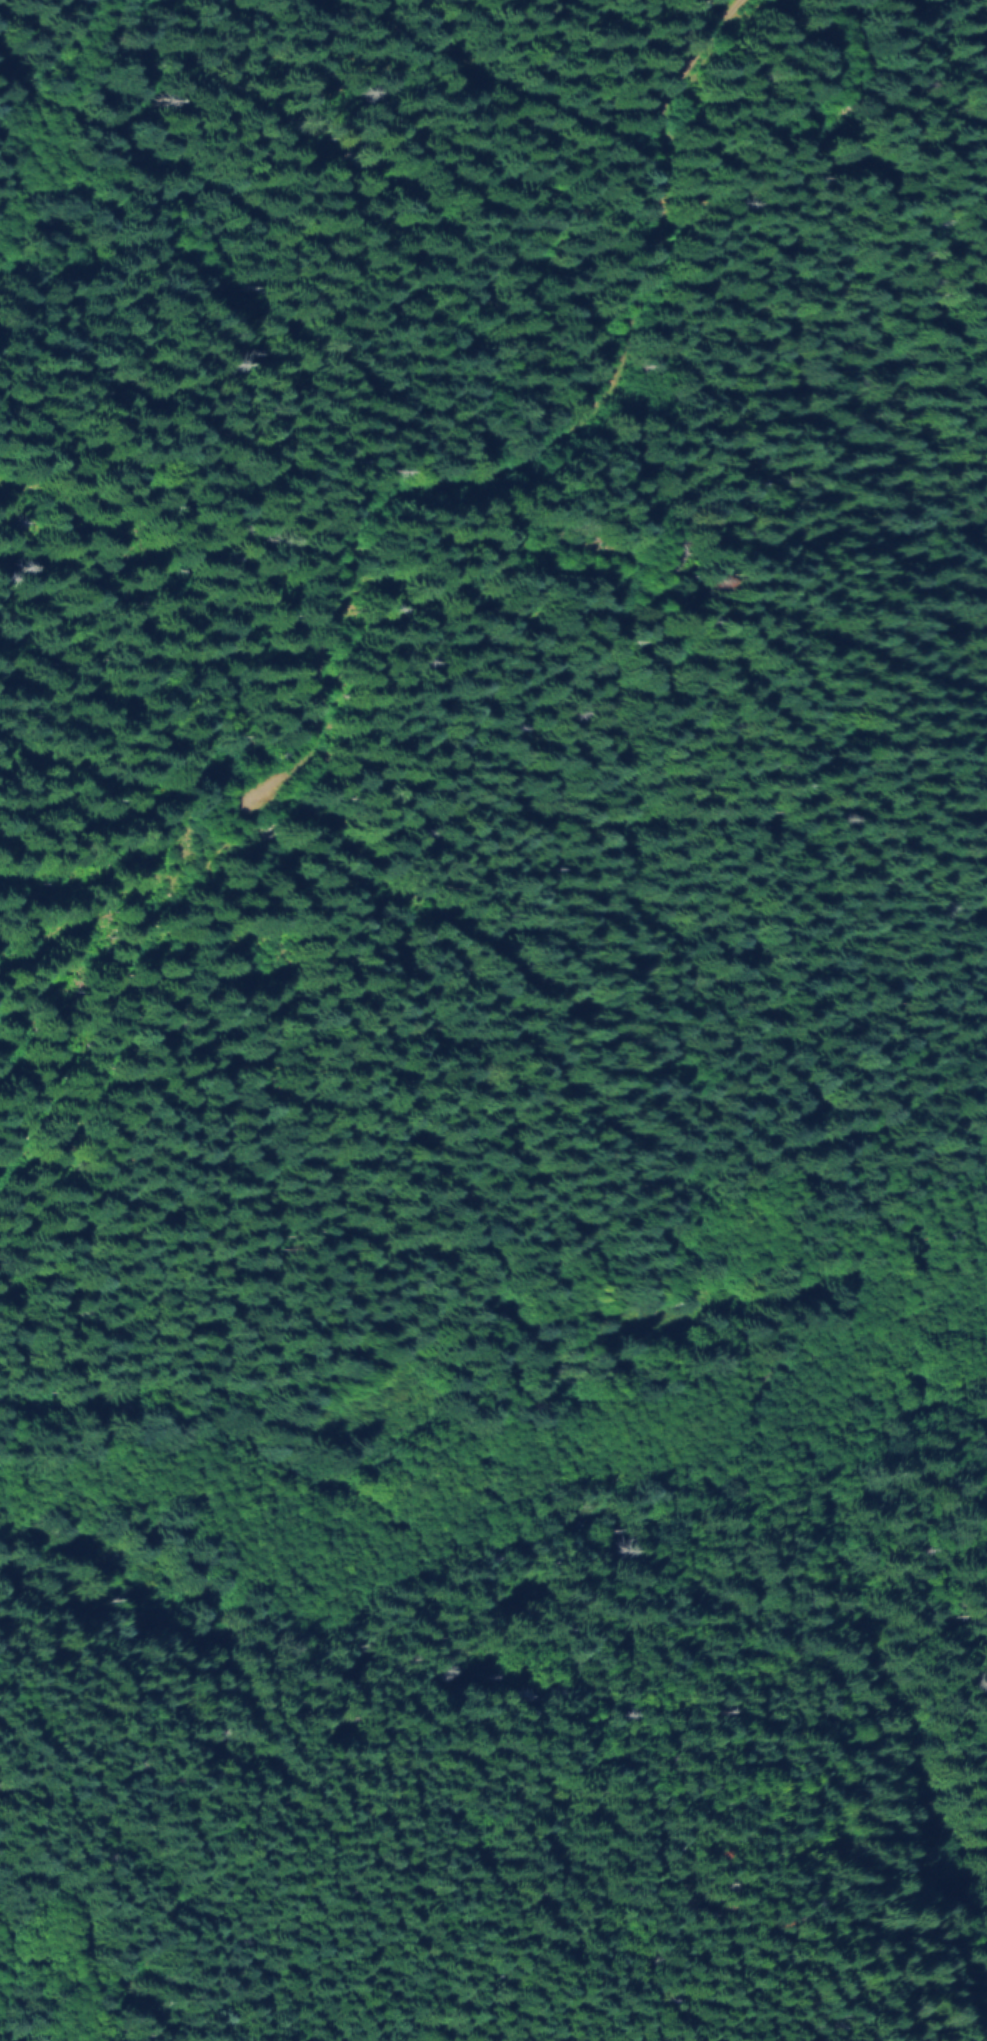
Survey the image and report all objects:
road: (528, 1320)
river: (512, 1415)

